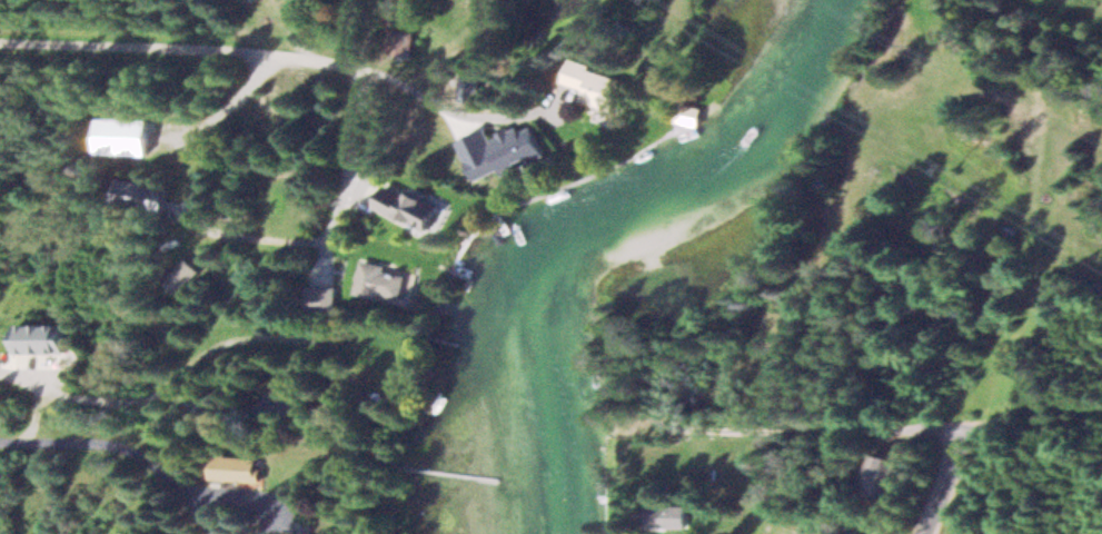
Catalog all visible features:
building: (292, 19)
road: (310, 47)
building: (596, 85)
building: (504, 155)
building: (140, 194)
building: (407, 206)
river: (593, 214)
building: (179, 274)
building: (379, 280)
building: (318, 297)
building: (345, 343)
building: (379, 376)
road: (308, 415)
road: (900, 438)
road: (132, 455)
building: (234, 466)
building: (883, 472)
building: (667, 514)

